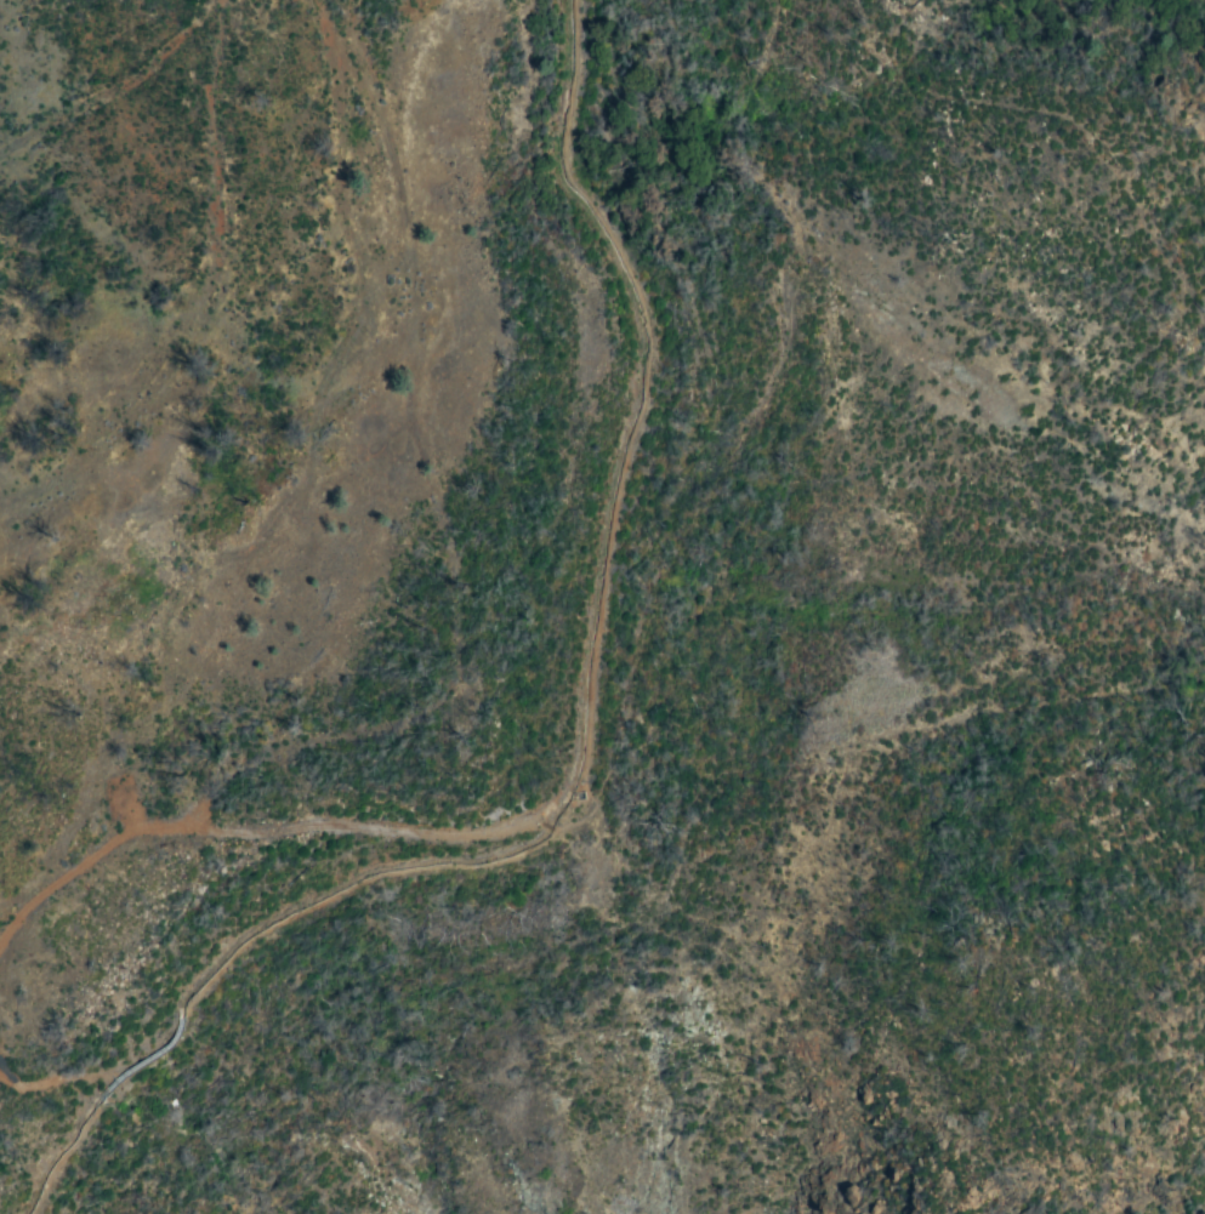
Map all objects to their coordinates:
road: (434, 792)
road: (220, 800)

